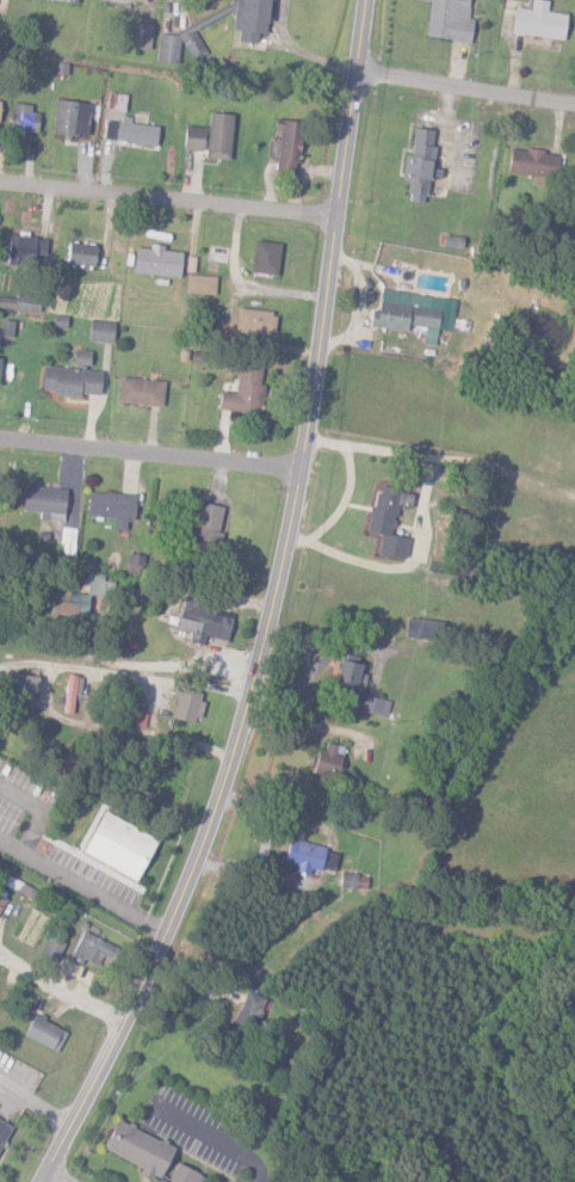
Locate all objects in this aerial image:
building: (73, 1)
building: (119, 2)
building: (252, 19)
building: (450, 20)
building: (539, 20)
building: (141, 35)
building: (179, 47)
road: (464, 86)
building: (23, 118)
building: (72, 118)
building: (220, 135)
building: (193, 137)
building: (289, 143)
building: (533, 162)
building: (420, 165)
road: (168, 197)
building: (24, 250)
building: (81, 254)
building: (266, 257)
building: (157, 261)
building: (200, 284)
building: (19, 303)
building: (410, 314)
building: (255, 321)
building: (101, 331)
building: (0, 362)
building: (73, 378)
building: (141, 392)
building: (245, 392)
road: (146, 457)
road: (347, 491)
building: (45, 501)
building: (112, 507)
building: (389, 521)
building: (208, 527)
building: (80, 597)
road: (266, 610)
building: (203, 622)
building: (423, 629)
road: (116, 672)
building: (352, 683)
building: (23, 684)
building: (72, 691)
building: (375, 706)
building: (187, 708)
road: (304, 722)
road: (113, 733)
building: (330, 759)
building: (119, 847)
building: (311, 857)
road: (80, 887)
building: (1, 903)
building: (52, 947)
building: (91, 949)
road: (60, 986)
building: (248, 1012)
building: (45, 1033)
road: (33, 1106)
building: (4, 1131)
road: (215, 1140)
building: (148, 1153)
road: (57, 1175)

